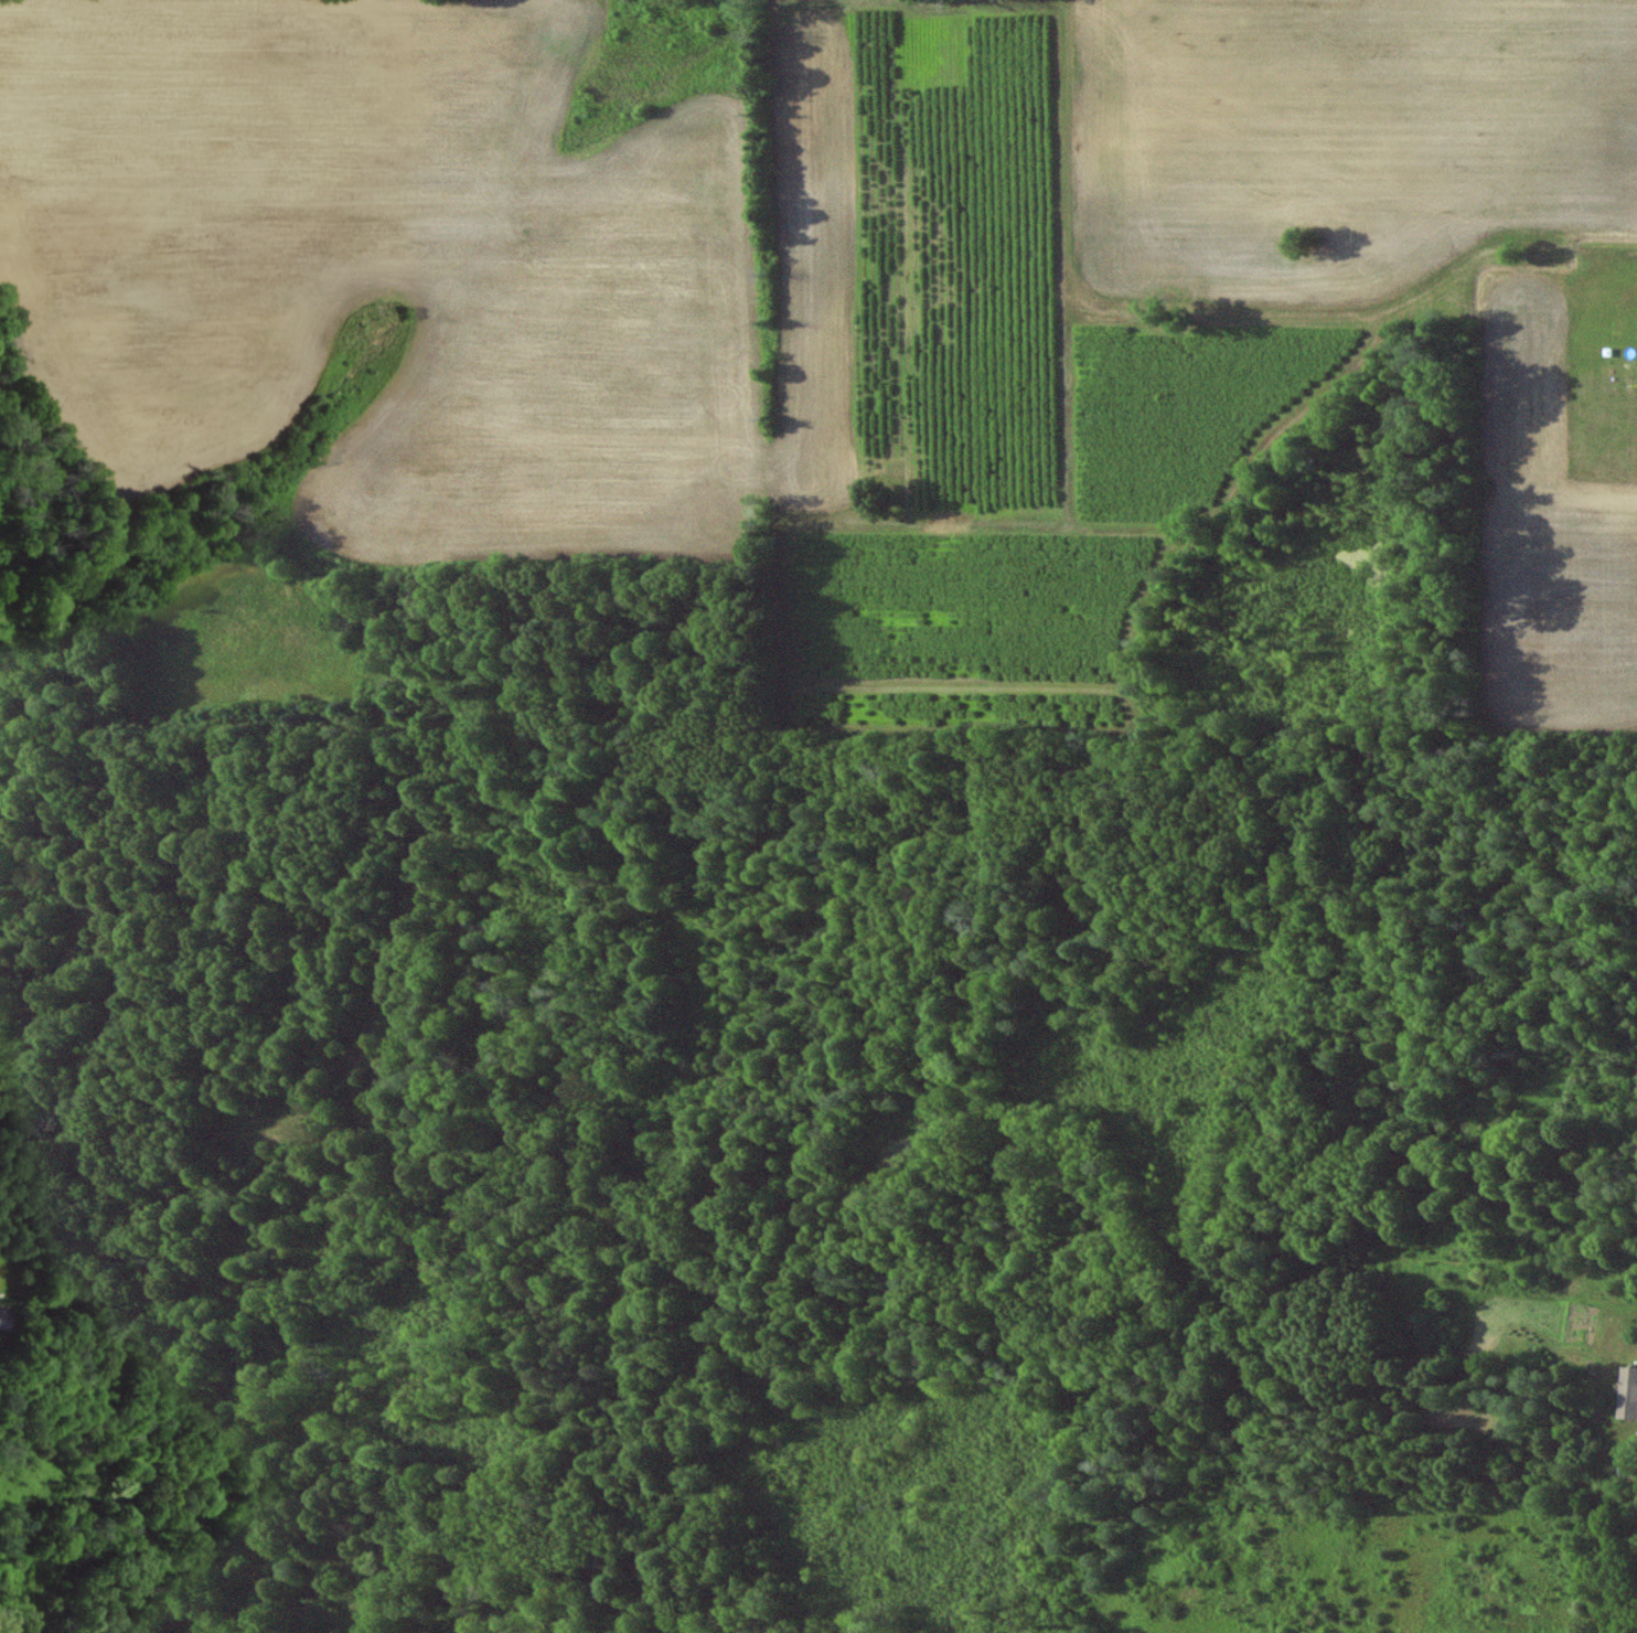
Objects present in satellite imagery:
building: (1628, 1392)

